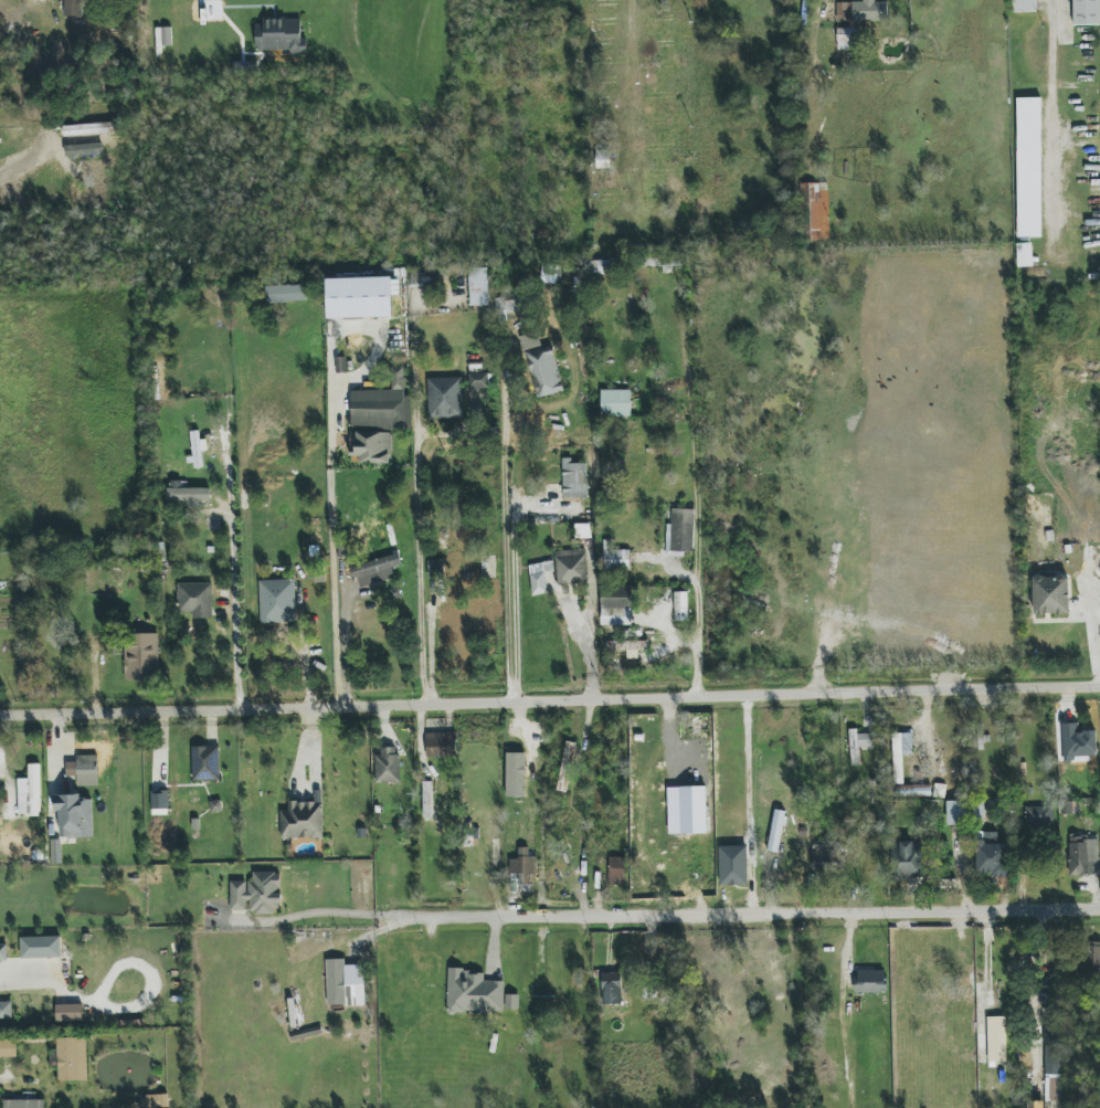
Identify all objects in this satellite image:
building: (1025, 6)
road: (207, 7)
building: (73, 8)
building: (861, 11)
building: (1086, 12)
building: (281, 35)
building: (847, 39)
road: (1054, 109)
road: (641, 115)
building: (1028, 167)
building: (816, 210)
building: (1025, 254)
building: (603, 266)
building: (478, 286)
building: (285, 293)
building: (359, 297)
building: (508, 306)
building: (544, 371)
building: (477, 392)
building: (445, 398)
building: (615, 403)
building: (382, 405)
building: (371, 447)
building: (197, 449)
building: (573, 479)
building: (187, 495)
building: (680, 531)
road: (504, 540)
building: (615, 557)
road: (334, 562)
building: (571, 567)
building: (435, 569)
building: (376, 570)
building: (539, 577)
road: (419, 580)
building: (1051, 595)
building: (195, 600)
building: (277, 601)
road: (697, 601)
road: (234, 605)
building: (616, 605)
building: (680, 606)
building: (628, 647)
road: (432, 648)
building: (141, 656)
road: (549, 698)
building: (1078, 742)
building: (441, 745)
building: (859, 745)
building: (900, 753)
building: (205, 763)
building: (388, 764)
building: (565, 767)
building: (84, 770)
building: (30, 792)
building: (427, 799)
building: (160, 803)
building: (694, 810)
building: (955, 812)
building: (74, 815)
building: (1039, 815)
building: (303, 819)
building: (775, 831)
building: (827, 854)
building: (991, 855)
building: (1083, 856)
building: (906, 859)
building: (733, 865)
building: (617, 870)
building: (257, 893)
road: (332, 912)
road: (748, 916)
building: (41, 947)
building: (3, 951)
building: (1091, 956)
road: (18, 975)
building: (345, 983)
building: (870, 983)
building: (611, 988)
building: (478, 993)
building: (6, 1010)
road: (843, 1011)
building: (68, 1013)
building: (997, 1040)
building: (8, 1048)
building: (71, 1058)
building: (1051, 1074)
building: (909, 1075)
road: (2, 1078)
building: (154, 1101)
building: (24, 1104)

